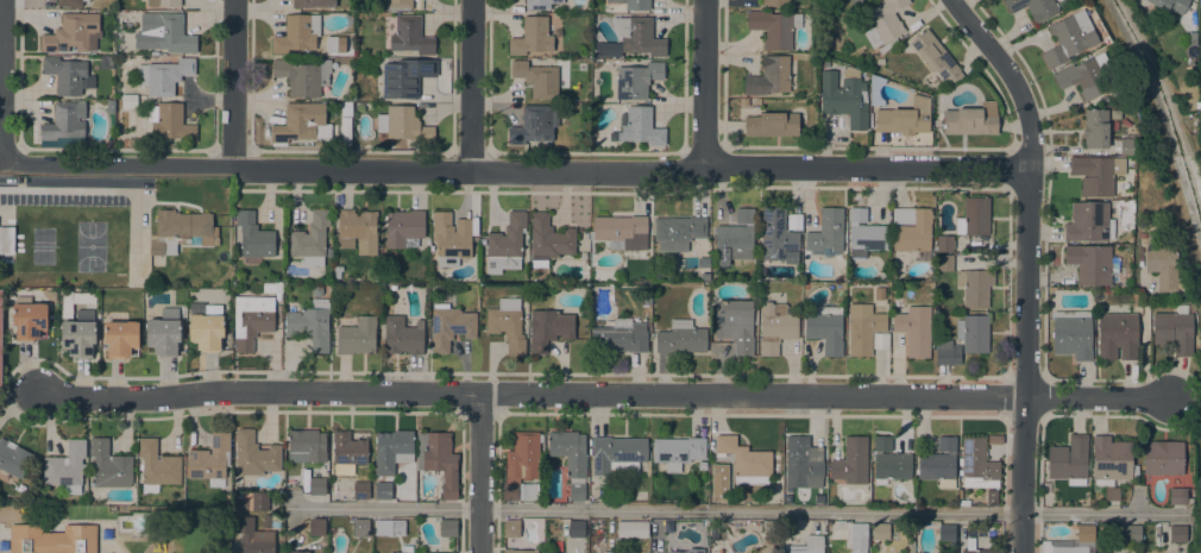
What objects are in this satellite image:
building: (849, 1)
building: (854, 1)
building: (70, 2)
building: (163, 2)
building: (313, 2)
building: (775, 2)
building: (400, 4)
building: (540, 4)
building: (633, 4)
building: (1170, 4)
building: (1200, 4)
building: (1033, 7)
building: (882, 21)
building: (774, 27)
building: (73, 33)
building: (164, 33)
building: (297, 33)
building: (410, 36)
building: (532, 36)
building: (637, 36)
building: (1069, 37)
building: (887, 45)
building: (614, 52)
building: (935, 56)
building: (880, 59)
building: (106, 62)
building: (65, 74)
building: (164, 75)
building: (1084, 75)
building: (303, 76)
building: (769, 76)
road: (1008, 76)
building: (405, 77)
building: (537, 78)
building: (636, 80)
road: (2, 82)
road: (706, 83)
road: (235, 84)
road: (473, 86)
building: (844, 96)
building: (128, 101)
building: (109, 105)
building: (346, 107)
building: (905, 118)
building: (972, 119)
building: (64, 121)
building: (169, 121)
building: (301, 124)
building: (404, 124)
building: (534, 124)
building: (772, 124)
building: (639, 127)
building: (1095, 128)
building: (346, 130)
road: (1158, 132)
building: (126, 142)
building: (136, 142)
building: (1128, 146)
road: (867, 169)
road: (354, 170)
building: (1096, 174)
road: (109, 190)
building: (974, 216)
building: (1089, 221)
building: (358, 227)
building: (403, 227)
building: (912, 228)
building: (181, 230)
building: (679, 230)
building: (621, 231)
building: (826, 231)
building: (864, 233)
building: (775, 234)
building: (1142, 234)
building: (253, 235)
building: (735, 237)
building: (310, 238)
building: (451, 238)
building: (7, 239)
building: (548, 240)
building: (482, 241)
building: (944, 243)
building: (507, 244)
building: (583, 256)
building: (1139, 257)
building: (385, 260)
building: (944, 262)
building: (1092, 263)
building: (1163, 266)
building: (975, 285)
road: (1026, 285)
building: (272, 287)
building: (647, 295)
building: (29, 318)
building: (251, 319)
building: (309, 322)
building: (508, 323)
building: (735, 323)
building: (449, 326)
building: (775, 326)
building: (548, 328)
building: (825, 328)
building: (864, 328)
building: (914, 329)
building: (1174, 329)
building: (208, 331)
building: (164, 332)
building: (973, 332)
building: (78, 334)
building: (1073, 334)
building: (0, 335)
building: (357, 335)
building: (403, 335)
building: (1117, 335)
building: (620, 337)
building: (681, 337)
building: (120, 338)
building: (880, 340)
building: (948, 352)
road: (533, 395)
road: (1098, 400)
building: (994, 438)
building: (306, 445)
building: (348, 448)
building: (391, 450)
building: (678, 451)
building: (254, 454)
building: (618, 454)
building: (13, 458)
building: (1163, 458)
building: (439, 459)
building: (571, 459)
building: (804, 459)
building: (210, 460)
building: (744, 460)
building: (851, 460)
building: (1069, 460)
building: (1111, 460)
building: (521, 461)
building: (889, 461)
building: (939, 463)
building: (977, 464)
building: (109, 465)
building: (703, 465)
building: (157, 466)
building: (67, 467)
road: (479, 473)
road: (1023, 476)
building: (639, 484)
building: (317, 485)
building: (1046, 486)
building: (360, 489)
building: (383, 490)
building: (528, 490)
building: (1111, 492)
building: (715, 495)
building: (991, 496)
building: (1177, 496)
building: (787, 498)
building: (818, 498)
building: (260, 502)
road: (740, 510)
building: (271, 521)
building: (316, 527)
building: (360, 527)
building: (390, 527)
building: (448, 527)
building: (511, 528)
building: (576, 528)
building: (631, 528)
building: (880, 530)
road: (460, 532)
road: (496, 532)
building: (947, 533)
road: (1002, 533)
road: (1038, 533)
building: (1084, 533)
building: (1131, 533)
building: (1177, 533)
building: (253, 536)
building: (857, 538)
building: (52, 539)
building: (970, 543)
building: (806, 546)
building: (401, 548)
building: (1068, 549)
building: (518, 551)
building: (687, 551)
building: (298, 552)
building: (435, 552)
building: (447, 552)
building: (616, 552)

